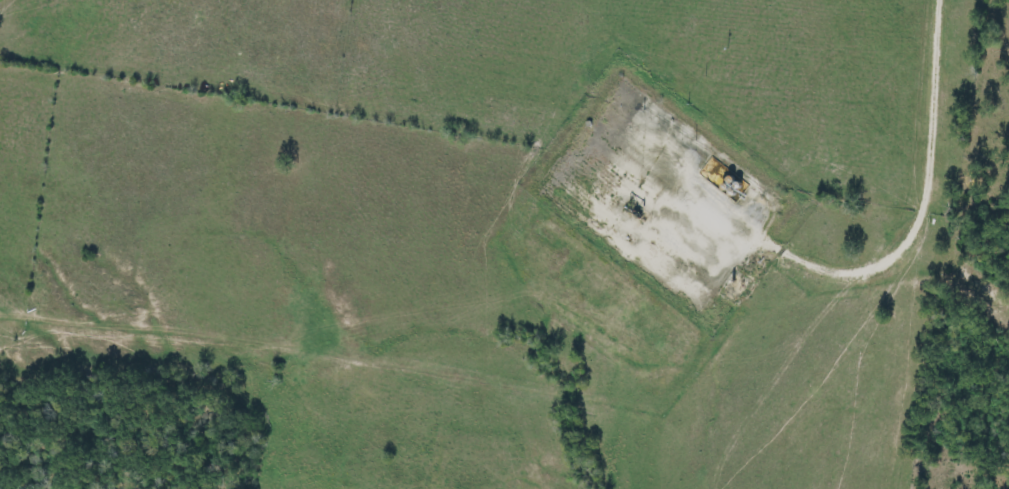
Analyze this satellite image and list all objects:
road: (922, 211)

